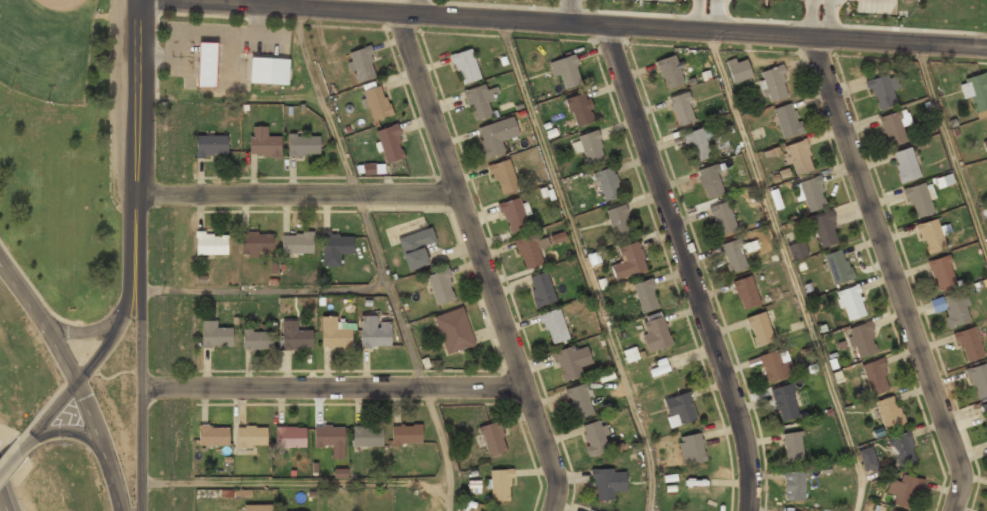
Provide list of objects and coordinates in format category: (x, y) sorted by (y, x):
building: (908, 0)
road: (273, 7)
road: (691, 32)
park: (46, 48)
building: (361, 64)
building: (206, 66)
building: (466, 67)
building: (739, 70)
building: (268, 72)
building: (566, 72)
building: (670, 72)
building: (773, 84)
building: (883, 92)
building: (975, 92)
road: (229, 98)
building: (479, 102)
building: (376, 103)
building: (682, 109)
building: (579, 110)
road: (134, 115)
building: (787, 121)
building: (893, 128)
building: (496, 136)
building: (263, 143)
building: (390, 144)
building: (303, 145)
building: (210, 146)
building: (697, 146)
building: (985, 146)
building: (591, 148)
road: (951, 149)
park: (63, 151)
building: (798, 159)
building: (905, 165)
building: (503, 177)
building: (710, 182)
building: (607, 185)
building: (811, 194)
road: (295, 195)
building: (918, 200)
building: (514, 216)
building: (723, 219)
building: (619, 222)
building: (825, 231)
building: (931, 237)
building: (255, 244)
building: (297, 244)
building: (211, 245)
building: (335, 249)
building: (415, 249)
building: (797, 250)
building: (531, 252)
road: (380, 257)
building: (733, 257)
building: (629, 261)
road: (480, 262)
road: (583, 264)
road: (687, 267)
building: (837, 267)
road: (790, 271)
building: (942, 273)
road: (894, 274)
building: (440, 288)
road: (265, 290)
building: (541, 290)
building: (746, 293)
road: (37, 294)
building: (645, 296)
building: (851, 303)
building: (956, 310)
building: (554, 326)
building: (759, 329)
building: (454, 331)
road: (78, 332)
building: (374, 333)
building: (335, 334)
building: (655, 334)
building: (215, 336)
building: (295, 337)
building: (257, 340)
building: (862, 340)
building: (969, 345)
road: (101, 349)
building: (630, 354)
building: (572, 362)
building: (775, 366)
road: (140, 370)
building: (658, 370)
building: (876, 377)
road: (74, 381)
building: (978, 381)
road: (332, 389)
building: (579, 402)
building: (785, 404)
building: (679, 411)
building: (985, 411)
building: (889, 414)
road: (62, 431)
building: (213, 435)
building: (406, 435)
building: (251, 437)
building: (290, 437)
building: (367, 437)
building: (595, 438)
building: (330, 439)
building: (493, 439)
building: (792, 447)
building: (691, 449)
building: (903, 450)
road: (10, 459)
building: (867, 460)
road: (294, 483)
building: (608, 483)
building: (500, 485)
building: (795, 486)
building: (905, 492)
road: (3, 502)
building: (257, 508)
building: (892, 510)

